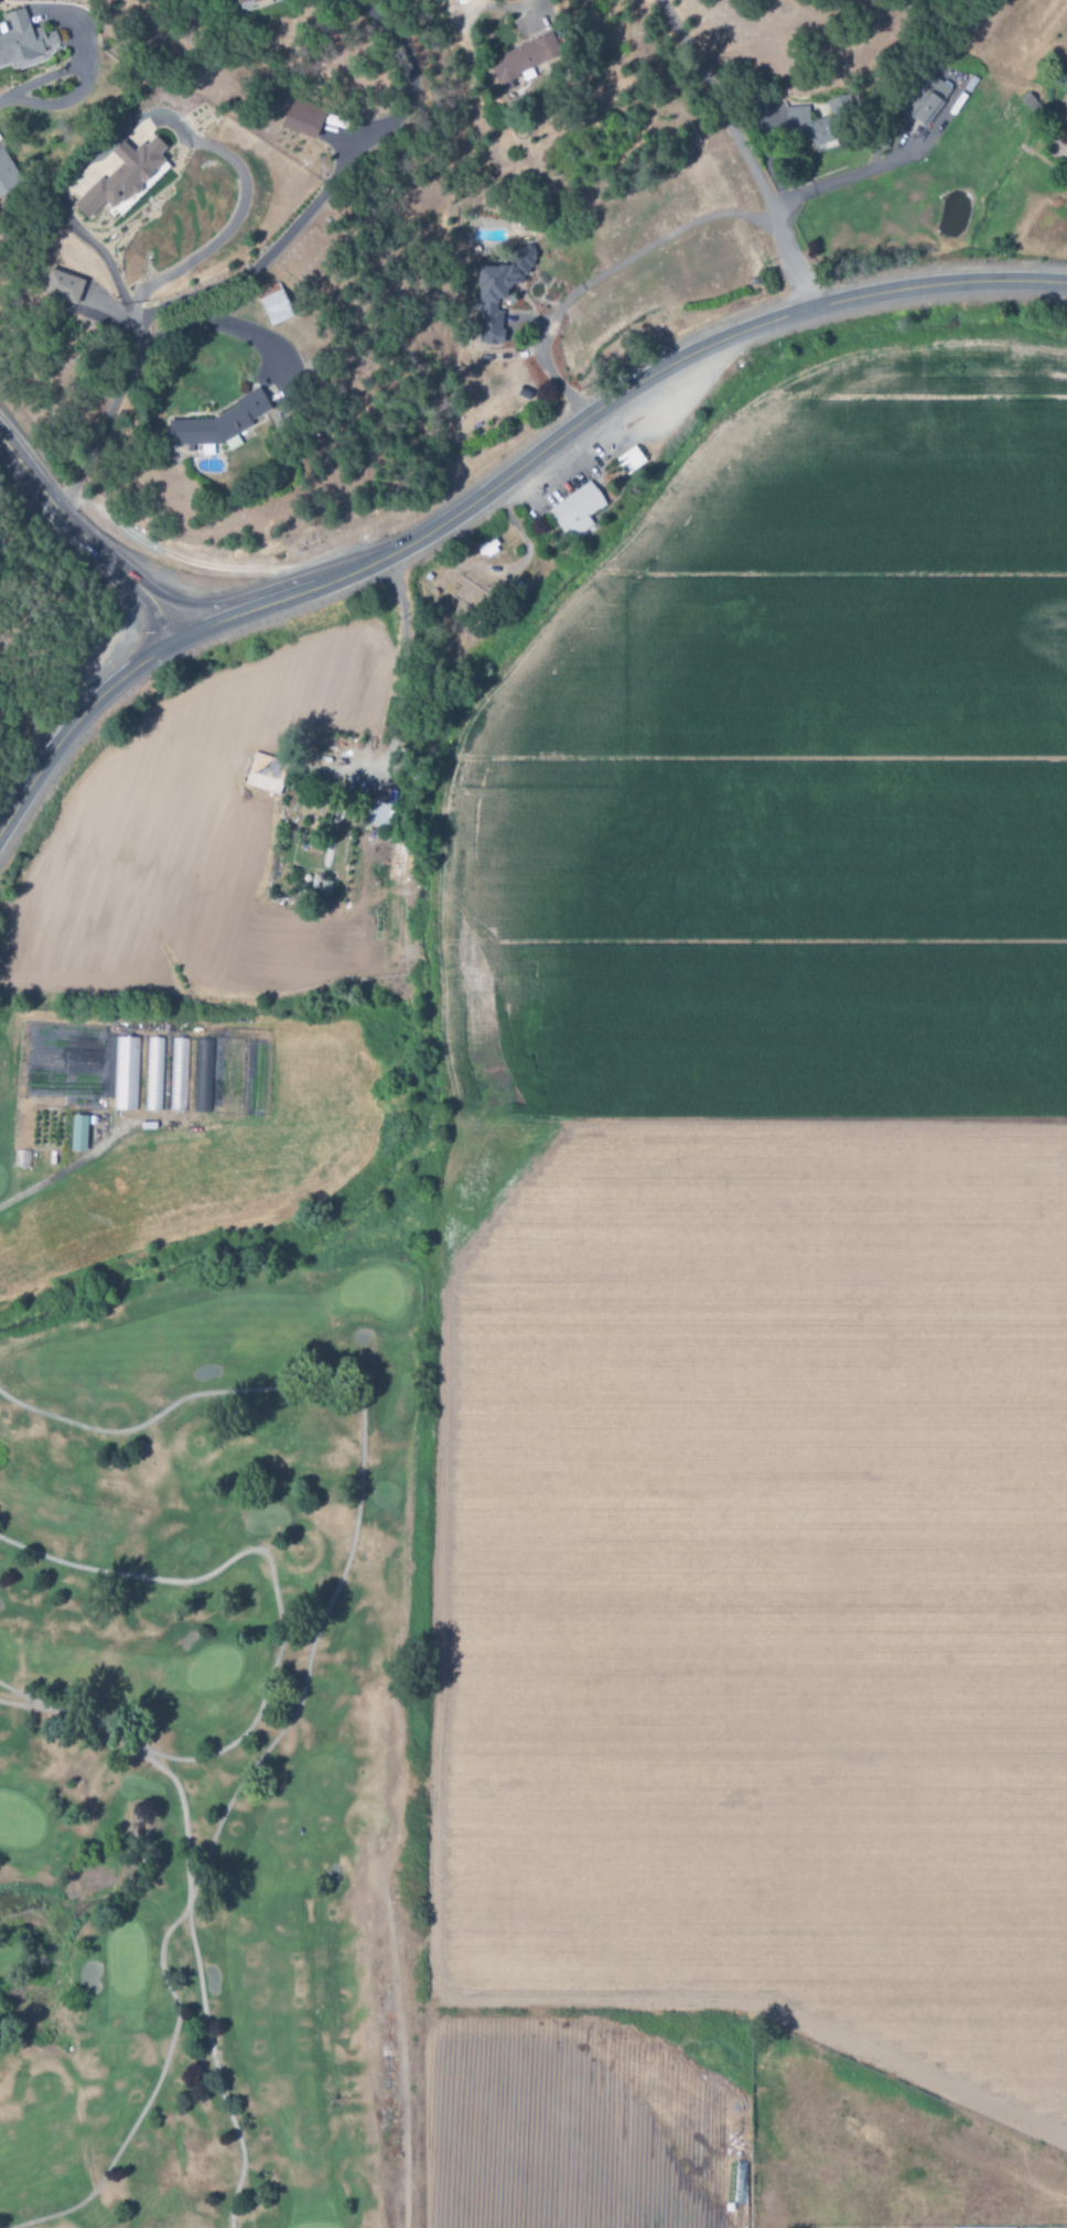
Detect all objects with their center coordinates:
building: (242, 1)
building: (23, 39)
building: (517, 61)
building: (926, 99)
building: (302, 119)
building: (806, 126)
road: (744, 150)
building: (7, 173)
building: (126, 179)
road: (168, 181)
building: (63, 286)
building: (498, 291)
building: (273, 304)
building: (218, 423)
building: (629, 459)
road: (495, 484)
building: (576, 510)
road: (86, 541)
building: (466, 593)
building: (266, 767)
building: (378, 814)
building: (324, 888)
building: (126, 1074)
building: (154, 1074)
building: (179, 1075)
building: (204, 1075)
building: (77, 1134)
crop: (767, 1344)
road: (362, 1475)
road: (269, 1565)
road: (42, 1704)
road: (148, 1760)
road: (215, 2070)
road: (152, 2094)

